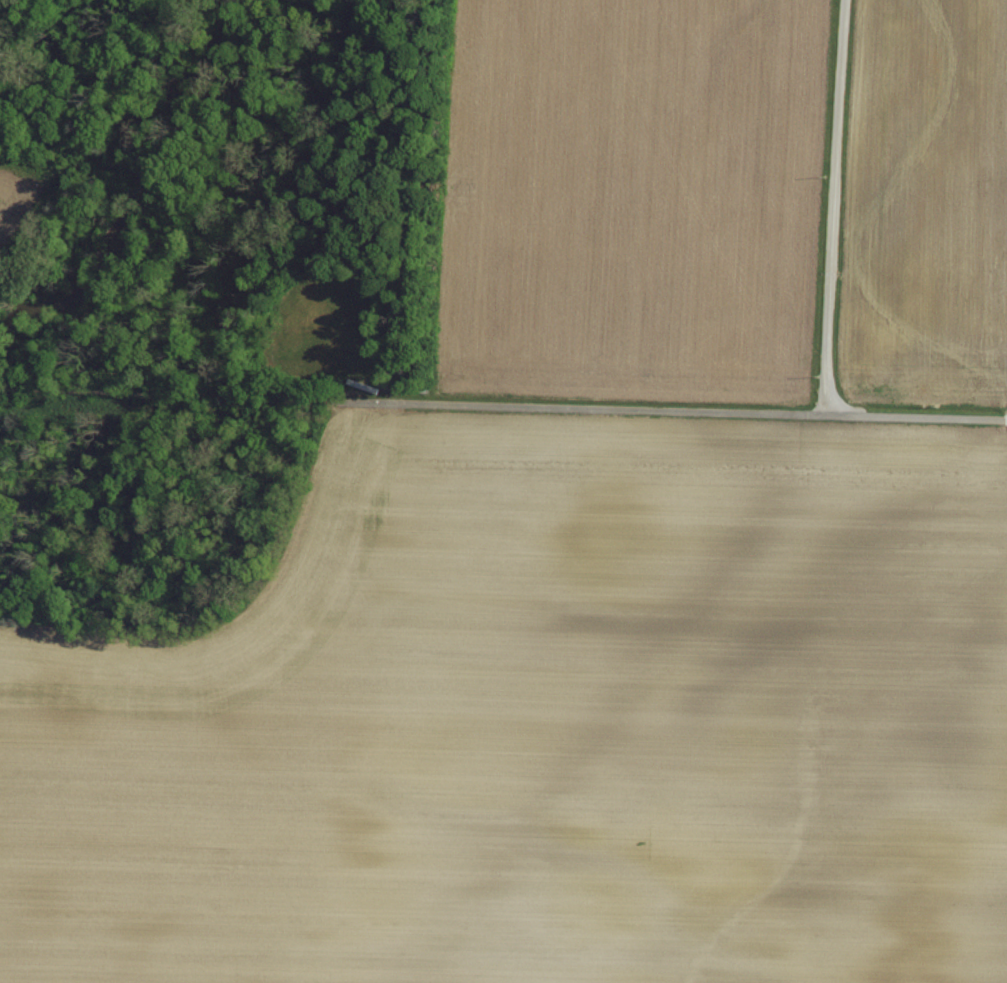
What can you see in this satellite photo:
road: (831, 207)
road: (503, 404)

